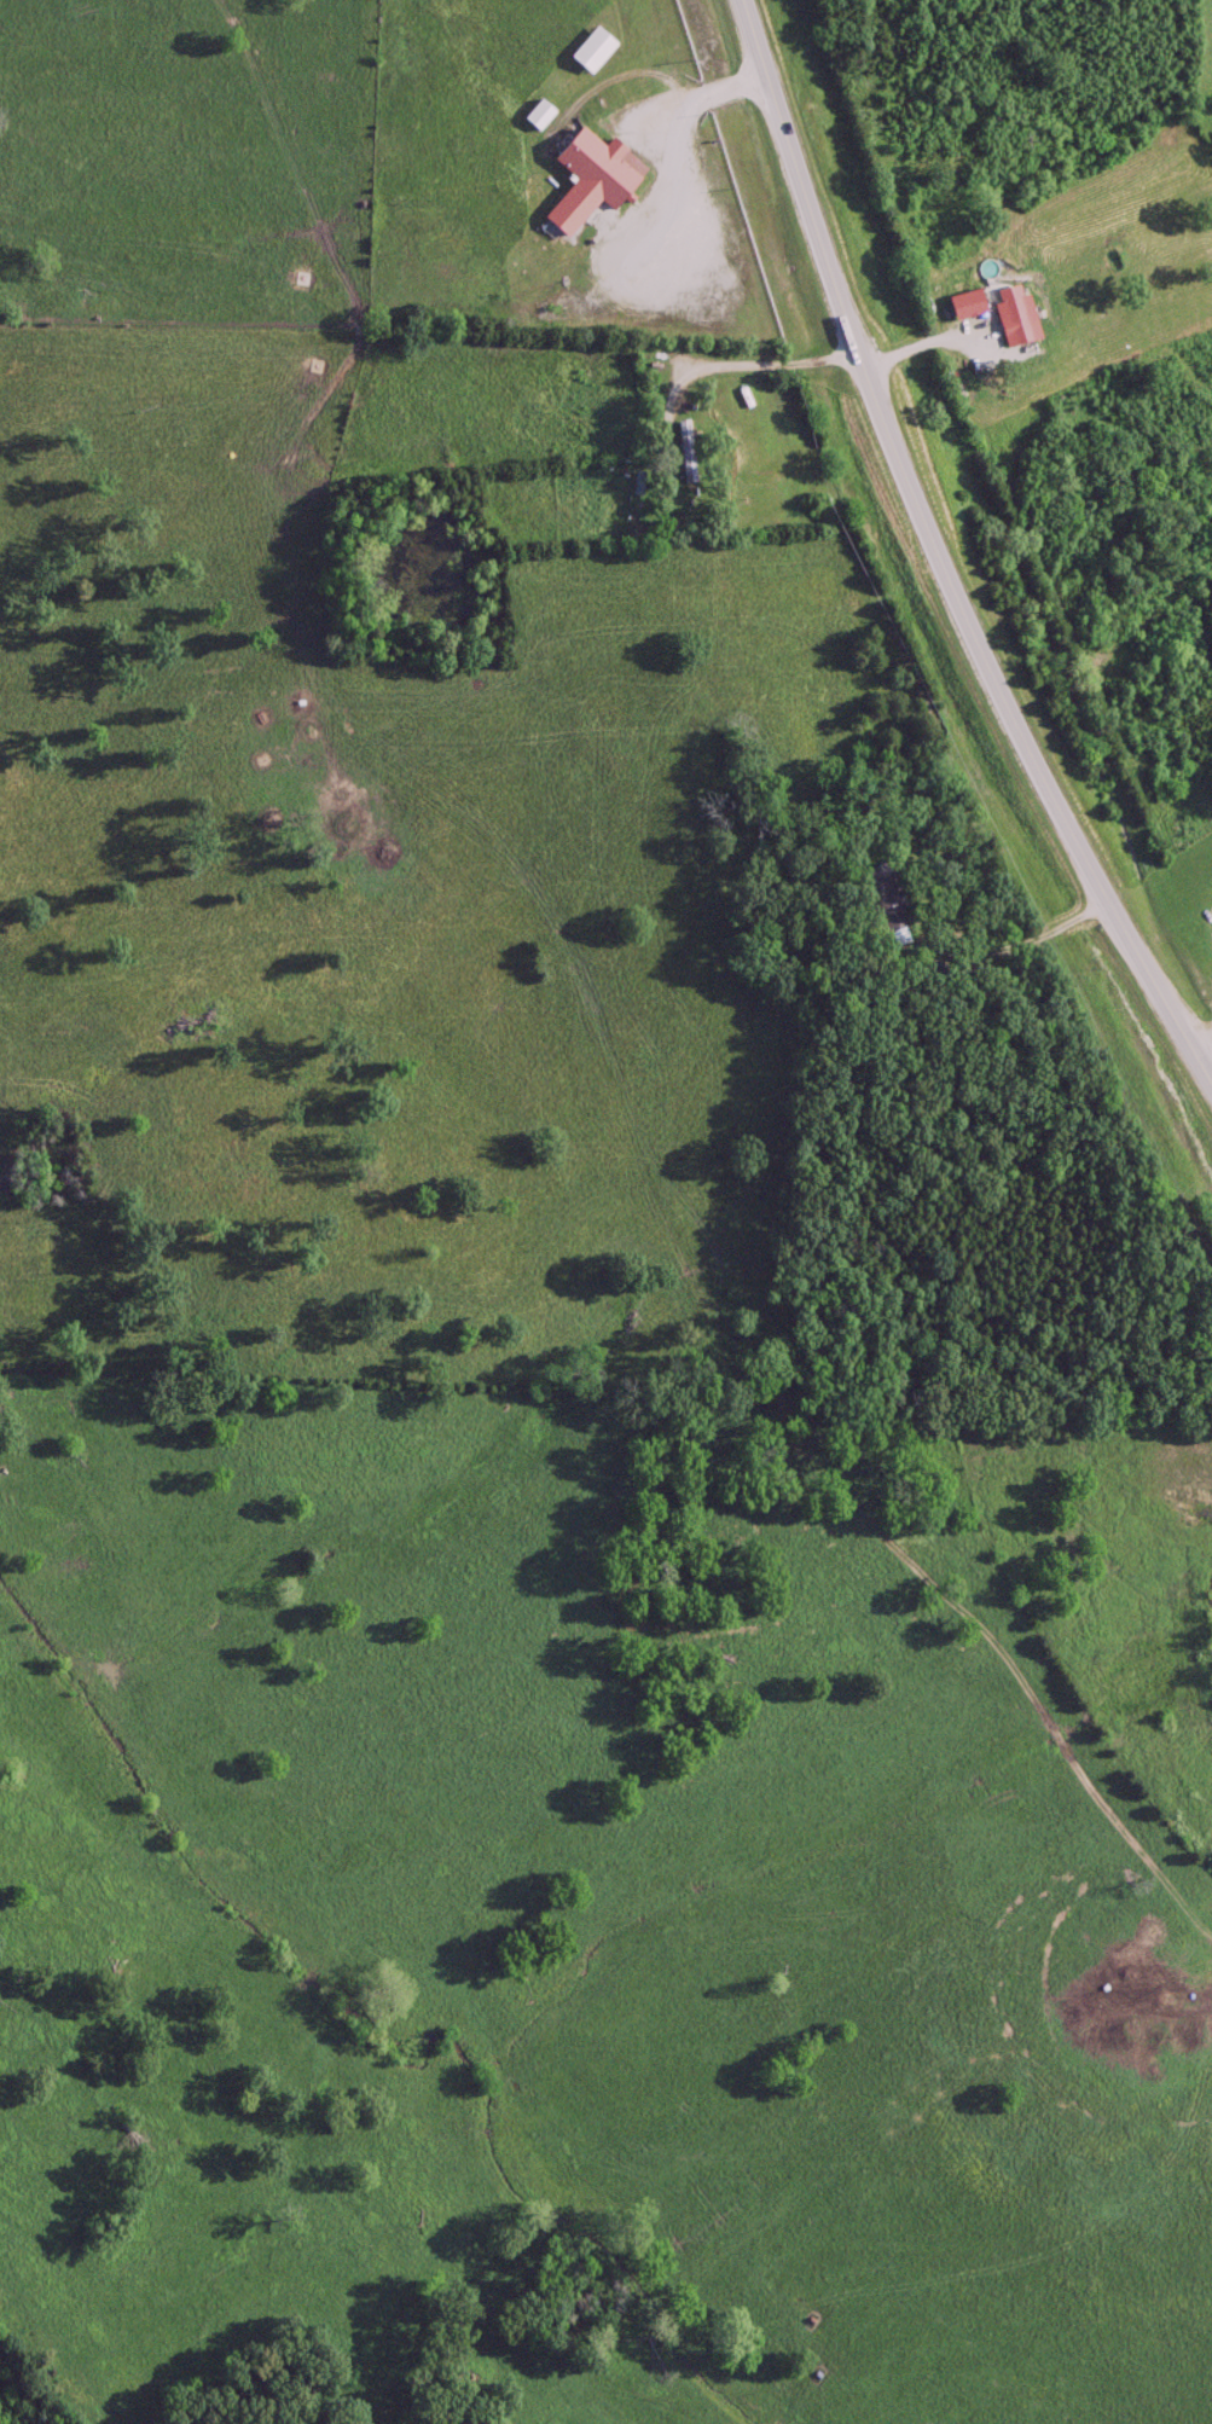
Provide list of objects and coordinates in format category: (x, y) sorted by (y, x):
building: (590, 52)
road: (694, 95)
building: (535, 116)
building: (586, 181)
building: (1013, 323)
road: (750, 365)
building: (683, 456)
road: (949, 551)
building: (882, 899)
road: (1009, 945)
road: (1201, 1026)
road: (282, 2203)

